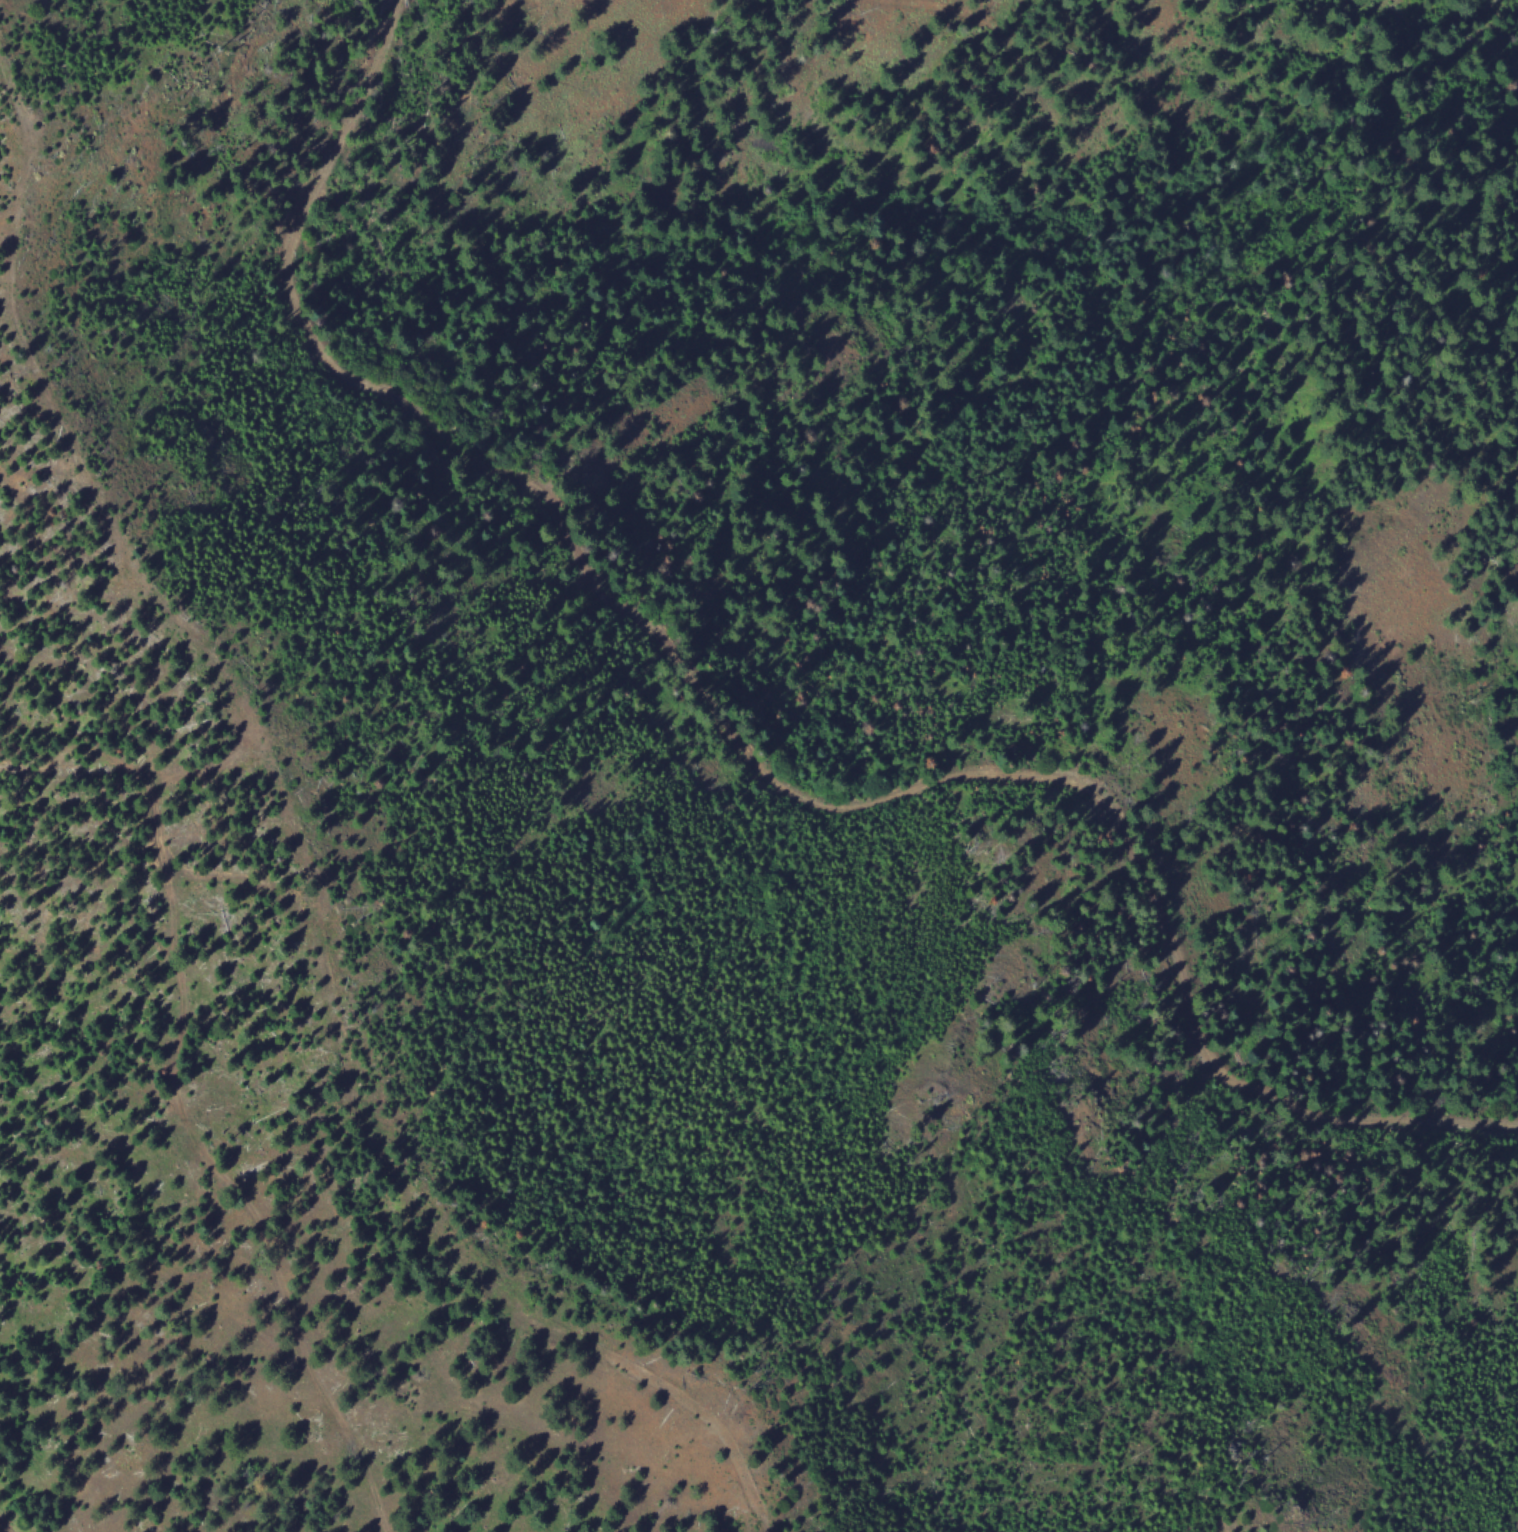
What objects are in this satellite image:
road: (191, 1127)

